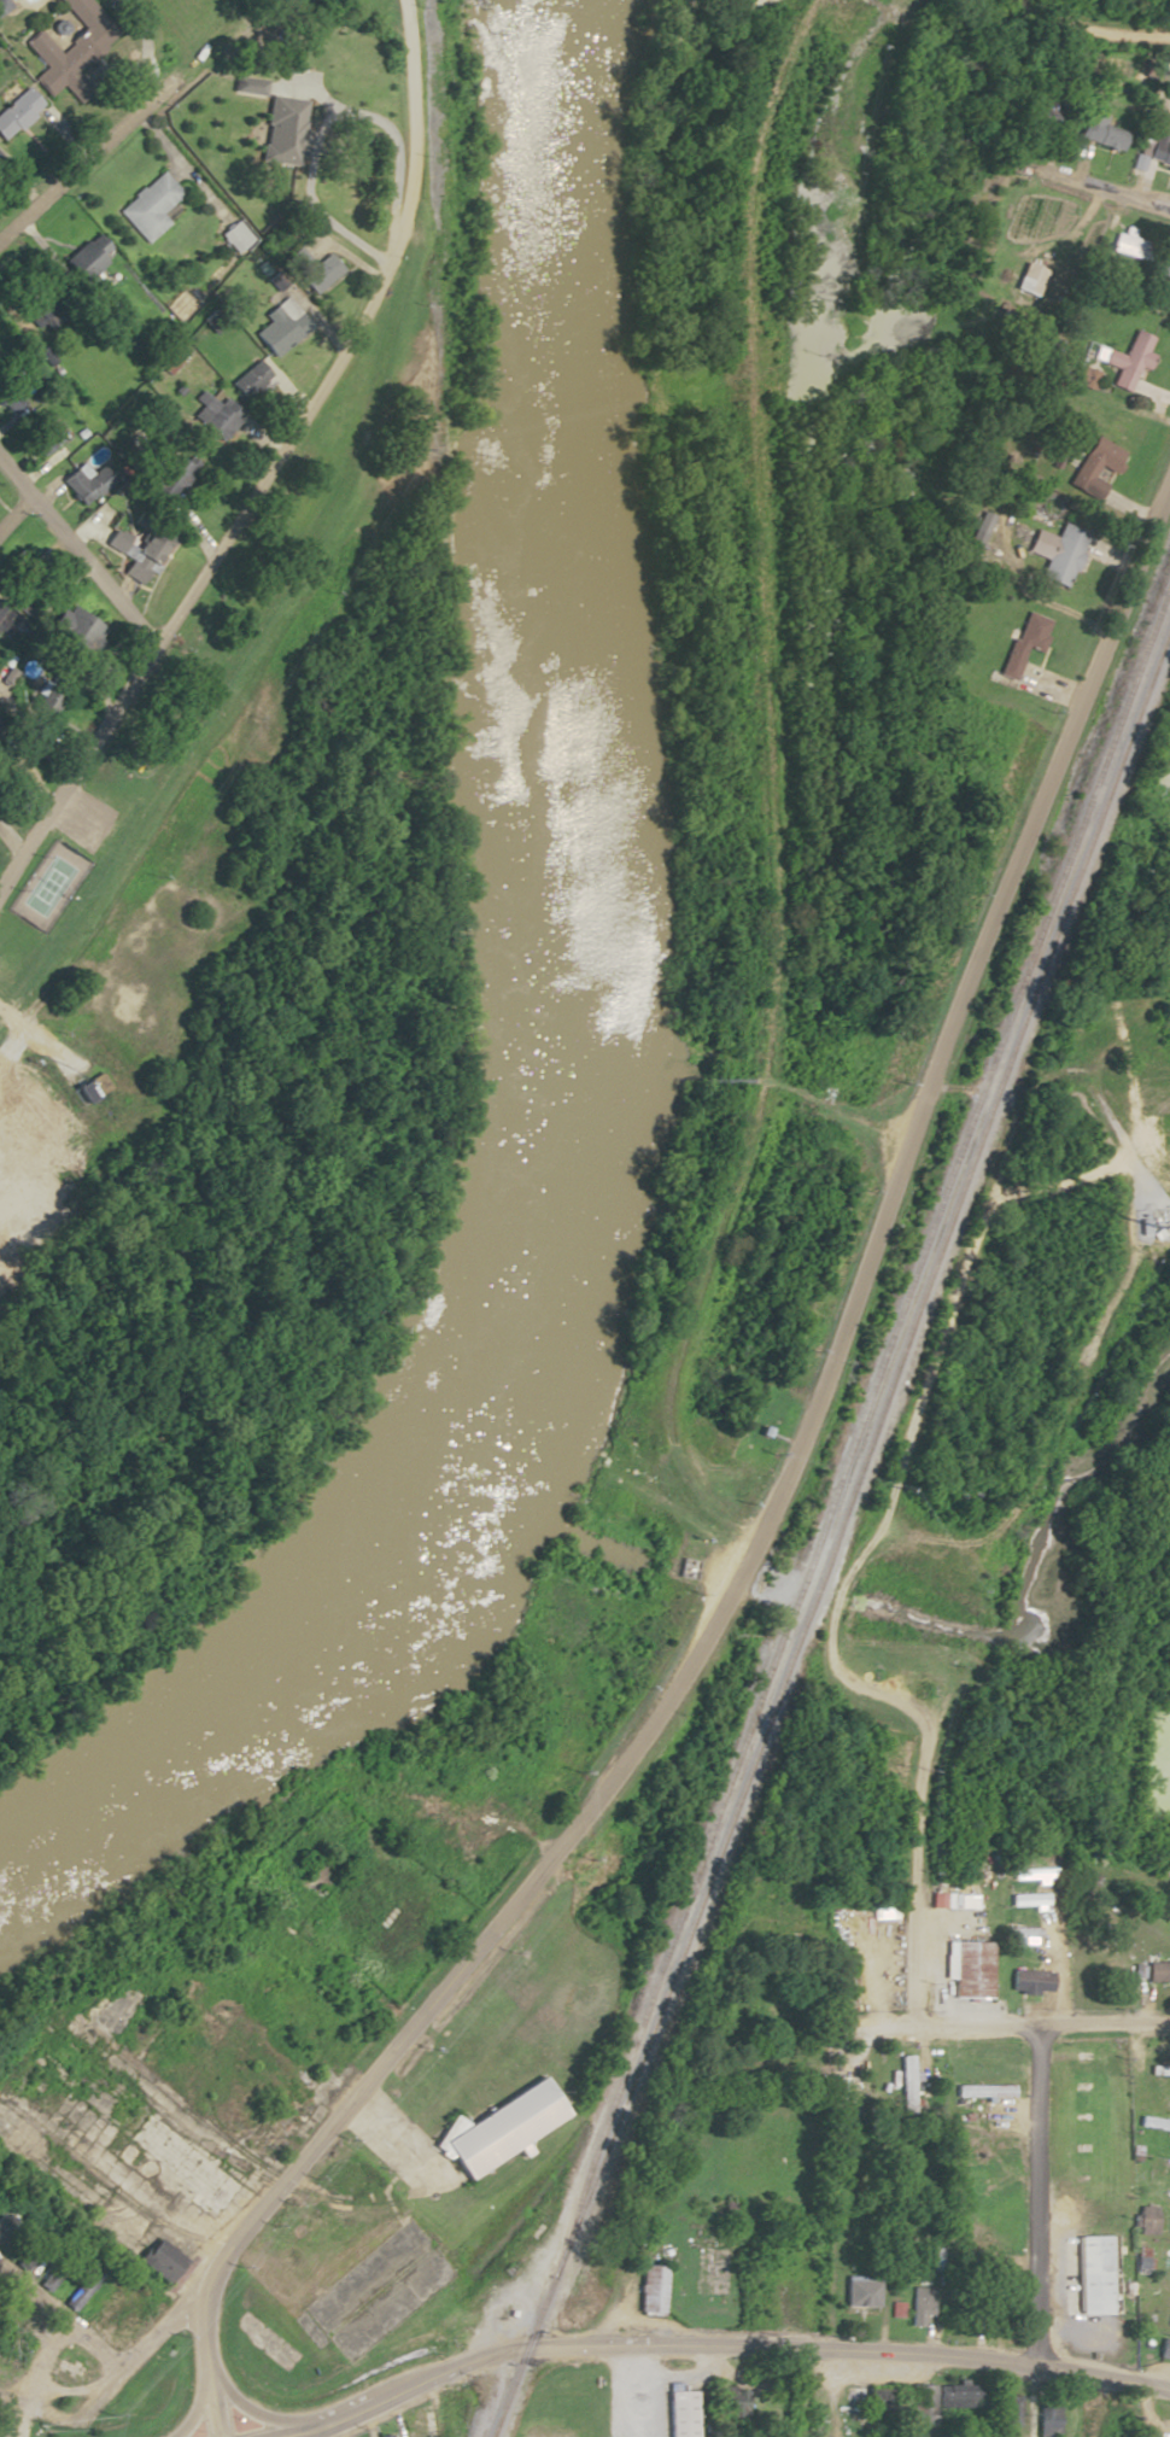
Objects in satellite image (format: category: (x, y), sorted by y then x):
building: (2, 6)
building: (81, 11)
road: (1088, 30)
building: (54, 63)
road: (402, 101)
building: (17, 112)
building: (1046, 113)
building: (1100, 132)
building: (1152, 151)
building: (280, 158)
road: (68, 163)
building: (147, 208)
building: (230, 236)
building: (1130, 246)
road: (1066, 249)
building: (87, 258)
building: (314, 271)
building: (1029, 279)
building: (270, 329)
building: (1129, 360)
road: (138, 366)
building: (211, 414)
road: (292, 432)
building: (1099, 460)
building: (166, 473)
road: (13, 509)
building: (979, 531)
building: (135, 550)
road: (75, 554)
building: (1064, 556)
building: (76, 630)
road: (258, 639)
building: (1025, 642)
road: (963, 685)
building: (42, 702)
road: (75, 768)
railway: (1101, 805)
parking lot: (84, 818)
park: (47, 883)
river: (562, 1038)
road: (34, 1039)
building: (96, 1082)
road: (929, 1091)
railway: (861, 1425)
railway: (766, 1718)
road: (439, 1814)
road: (915, 1880)
building: (938, 1900)
building: (971, 1969)
building: (1157, 1971)
building: (1030, 1982)
building: (771, 2024)
road: (785, 2047)
road: (393, 2049)
building: (1090, 2067)
building: (1162, 2070)
building: (908, 2082)
building: (984, 2090)
building: (501, 2125)
building: (179, 2161)
road: (1032, 2196)
road: (150, 2203)
building: (158, 2260)
building: (51, 2272)
building: (1093, 2273)
building: (651, 2290)
building: (860, 2293)
building: (72, 2296)
building: (919, 2305)
building: (105, 2307)
road: (59, 2318)
building: (123, 2326)
road: (140, 2345)
road: (543, 2348)
building: (1164, 2349)
road: (994, 2361)
building: (958, 2398)
road: (35, 2406)
building: (920, 2406)
road: (198, 2407)
building: (1013, 2410)
road: (261, 2413)
building: (679, 2413)
building: (417, 2430)

